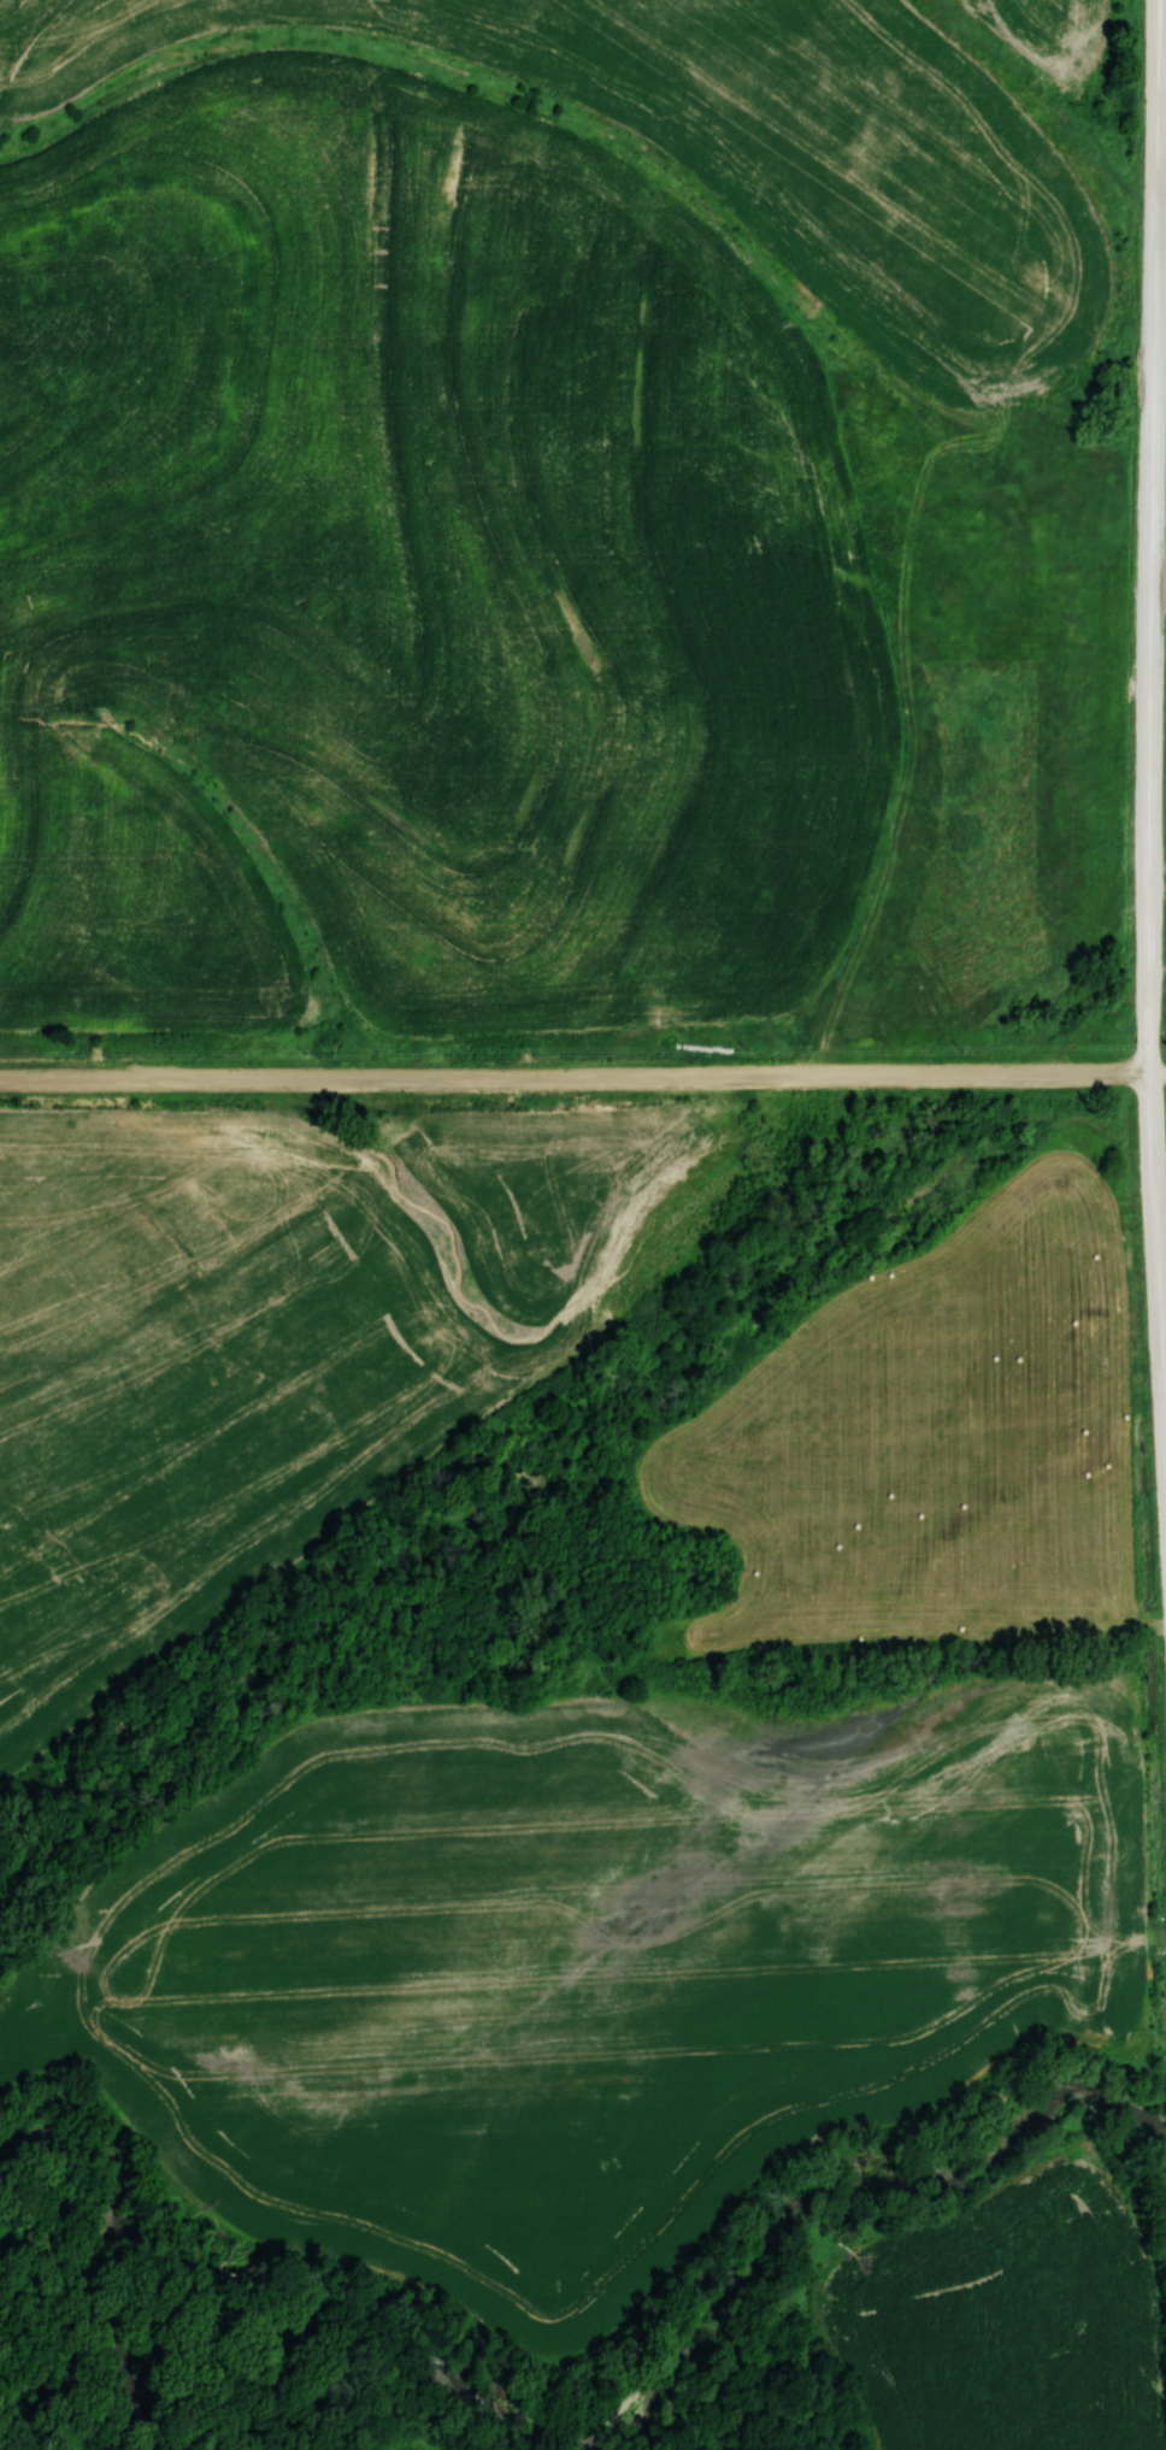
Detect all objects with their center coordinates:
road: (1153, 694)
road: (575, 1078)
river: (130, 2242)
river: (700, 2337)

